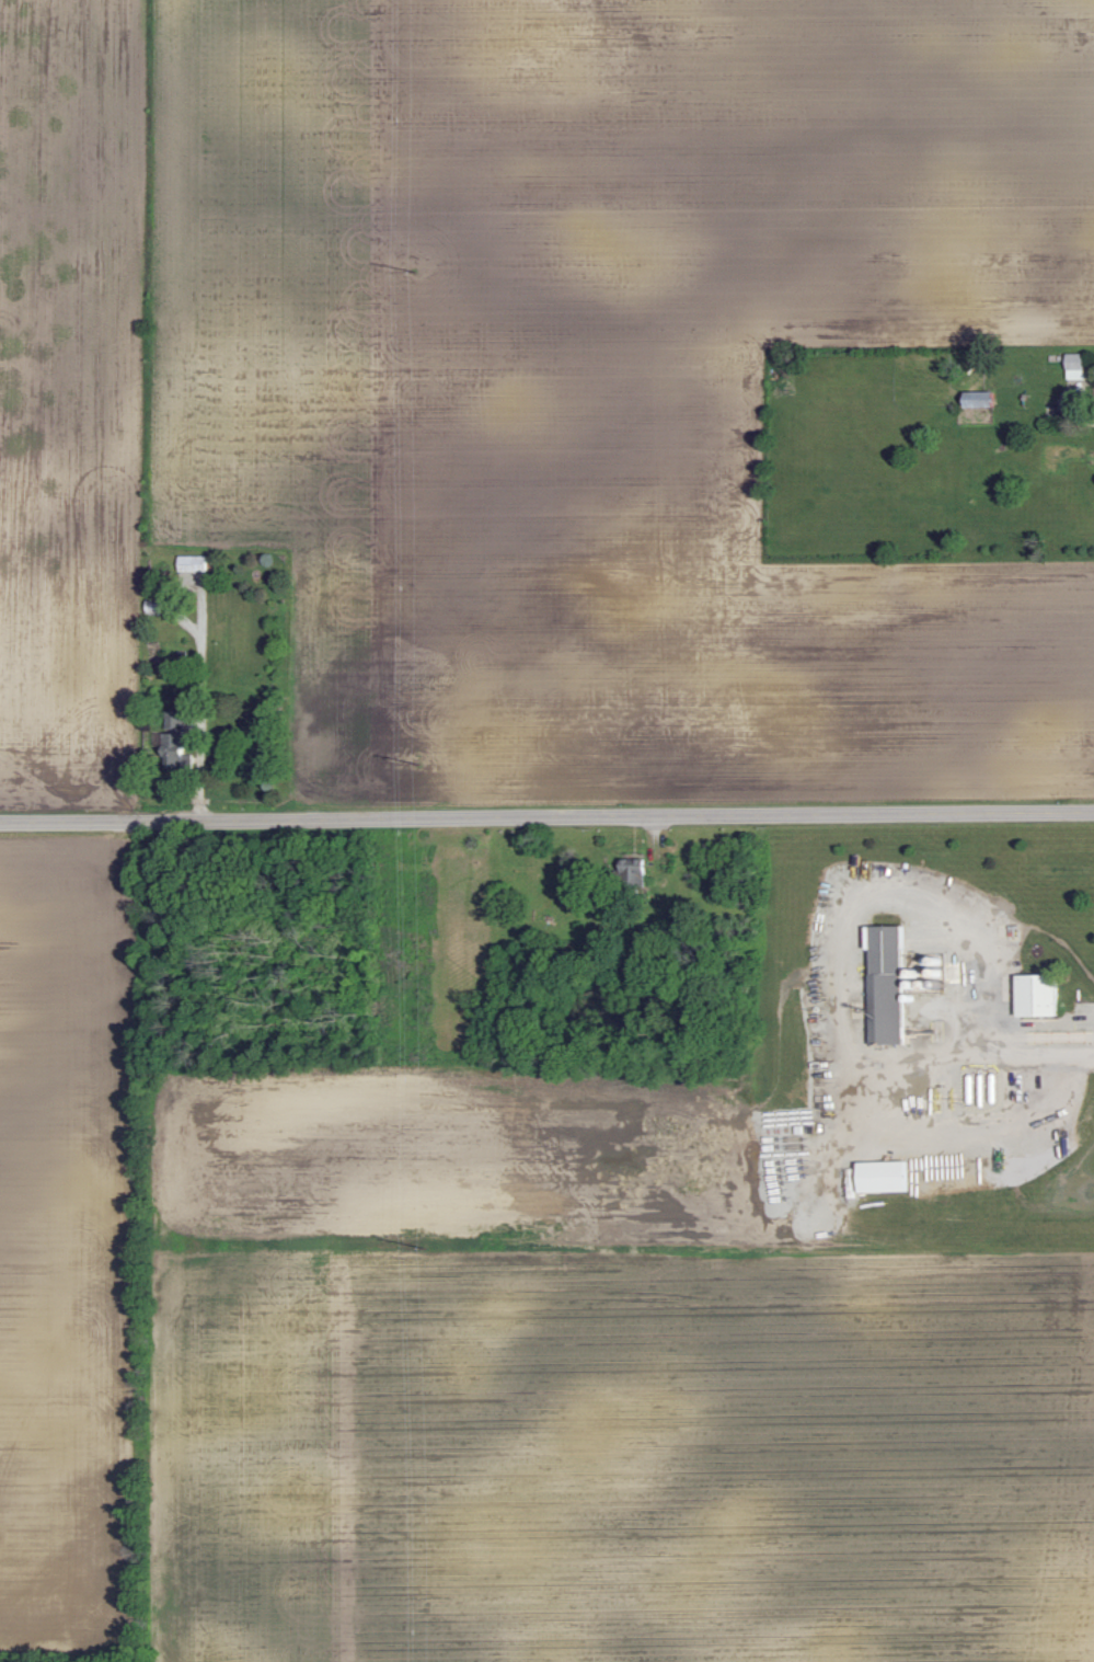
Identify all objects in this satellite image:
power tower: (415, 270)
building: (1074, 365)
building: (978, 398)
building: (191, 563)
road: (199, 709)
building: (172, 740)
power tower: (419, 761)
road: (546, 817)
building: (631, 871)
road: (847, 915)
building: (885, 985)
building: (1036, 996)
road: (1034, 1054)
building: (882, 1177)
power tower: (426, 1246)

